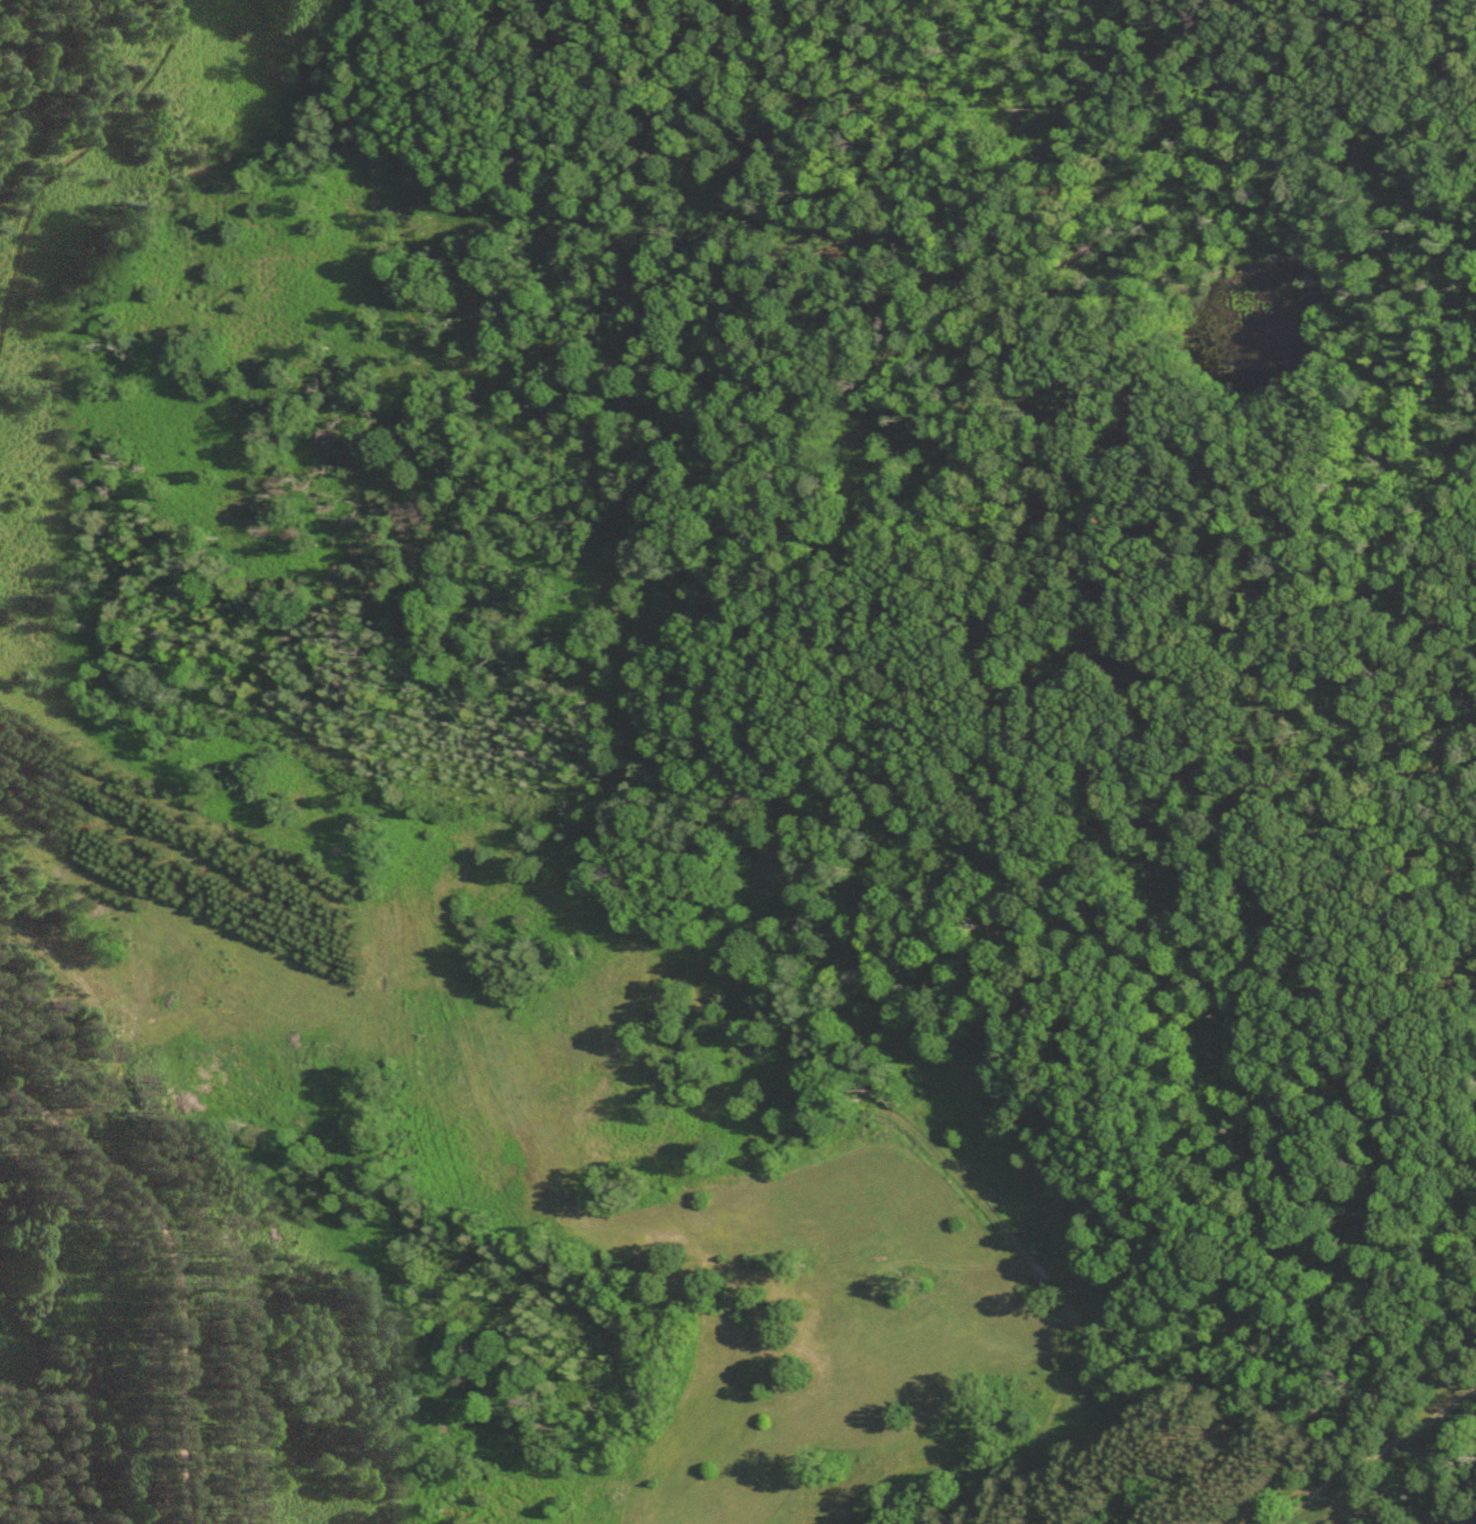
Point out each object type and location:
road: (75, 149)
road: (1, 915)
road: (26, 938)
road: (107, 1050)
road: (165, 1268)
road: (1375, 1452)

